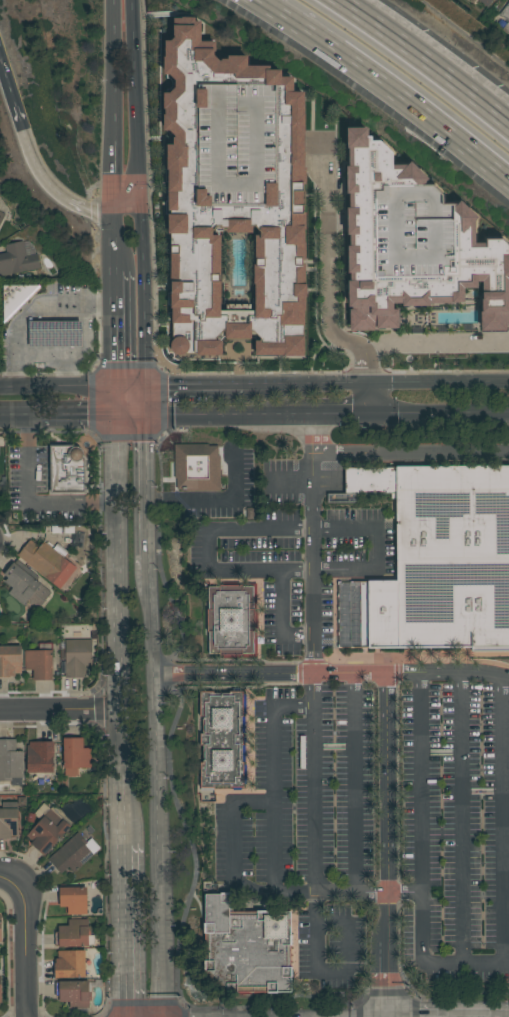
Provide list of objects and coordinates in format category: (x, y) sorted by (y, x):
building: (485, 2)
building: (505, 13)
building: (507, 27)
road: (388, 48)
road: (348, 63)
road: (7, 81)
building: (201, 98)
road: (484, 107)
road: (484, 117)
road: (114, 133)
road: (477, 153)
building: (175, 174)
road: (52, 186)
road: (136, 193)
building: (271, 194)
building: (1, 216)
building: (239, 226)
building: (17, 260)
building: (455, 264)
building: (193, 272)
road: (330, 280)
building: (16, 297)
road: (34, 312)
road: (116, 326)
building: (55, 334)
gas station: (55, 334)
road: (436, 341)
building: (177, 345)
building: (209, 347)
traffic signals: (369, 368)
road: (369, 370)
road: (249, 385)
road: (324, 385)
traffic signals: (395, 385)
road: (439, 385)
road: (129, 386)
traffic signals: (142, 386)
road: (180, 386)
road: (58, 387)
traffic signals: (117, 387)
road: (370, 399)
road: (116, 400)
road: (142, 400)
road: (440, 411)
traffic signals: (116, 414)
road: (129, 414)
traffic signals: (142, 414)
road: (216, 414)
road: (302, 414)
road: (342, 414)
traffic signals: (349, 414)
road: (58, 415)
road: (314, 435)
road: (412, 454)
building: (197, 467)
building: (67, 469)
road: (289, 480)
road: (145, 499)
road: (216, 500)
road: (29, 501)
building: (63, 530)
parking lot: (295, 552)
building: (440, 558)
building: (48, 562)
road: (315, 566)
road: (266, 572)
building: (25, 585)
building: (232, 621)
road: (279, 621)
road: (120, 629)
building: (77, 658)
building: (10, 661)
building: (40, 664)
road: (329, 677)
road: (61, 709)
building: (223, 740)
building: (74, 756)
building: (40, 758)
building: (10, 761)
road: (273, 778)
road: (354, 784)
road: (153, 801)
building: (10, 818)
road: (460, 821)
road: (500, 821)
road: (317, 824)
building: (48, 828)
parking lot: (308, 828)
parking lot: (453, 828)
road: (389, 845)
building: (74, 854)
road: (421, 864)
road: (235, 879)
road: (10, 882)
road: (389, 892)
building: (75, 899)
building: (0, 929)
road: (124, 931)
building: (73, 934)
building: (246, 948)
road: (344, 948)
road: (25, 951)
building: (70, 964)
building: (1, 989)
building: (74, 994)
traffic signals: (391, 1015)
road: (435, 1015)
road: (322, 1016)
road: (390, 1016)
road: (391, 1016)
road: (484, 1016)

